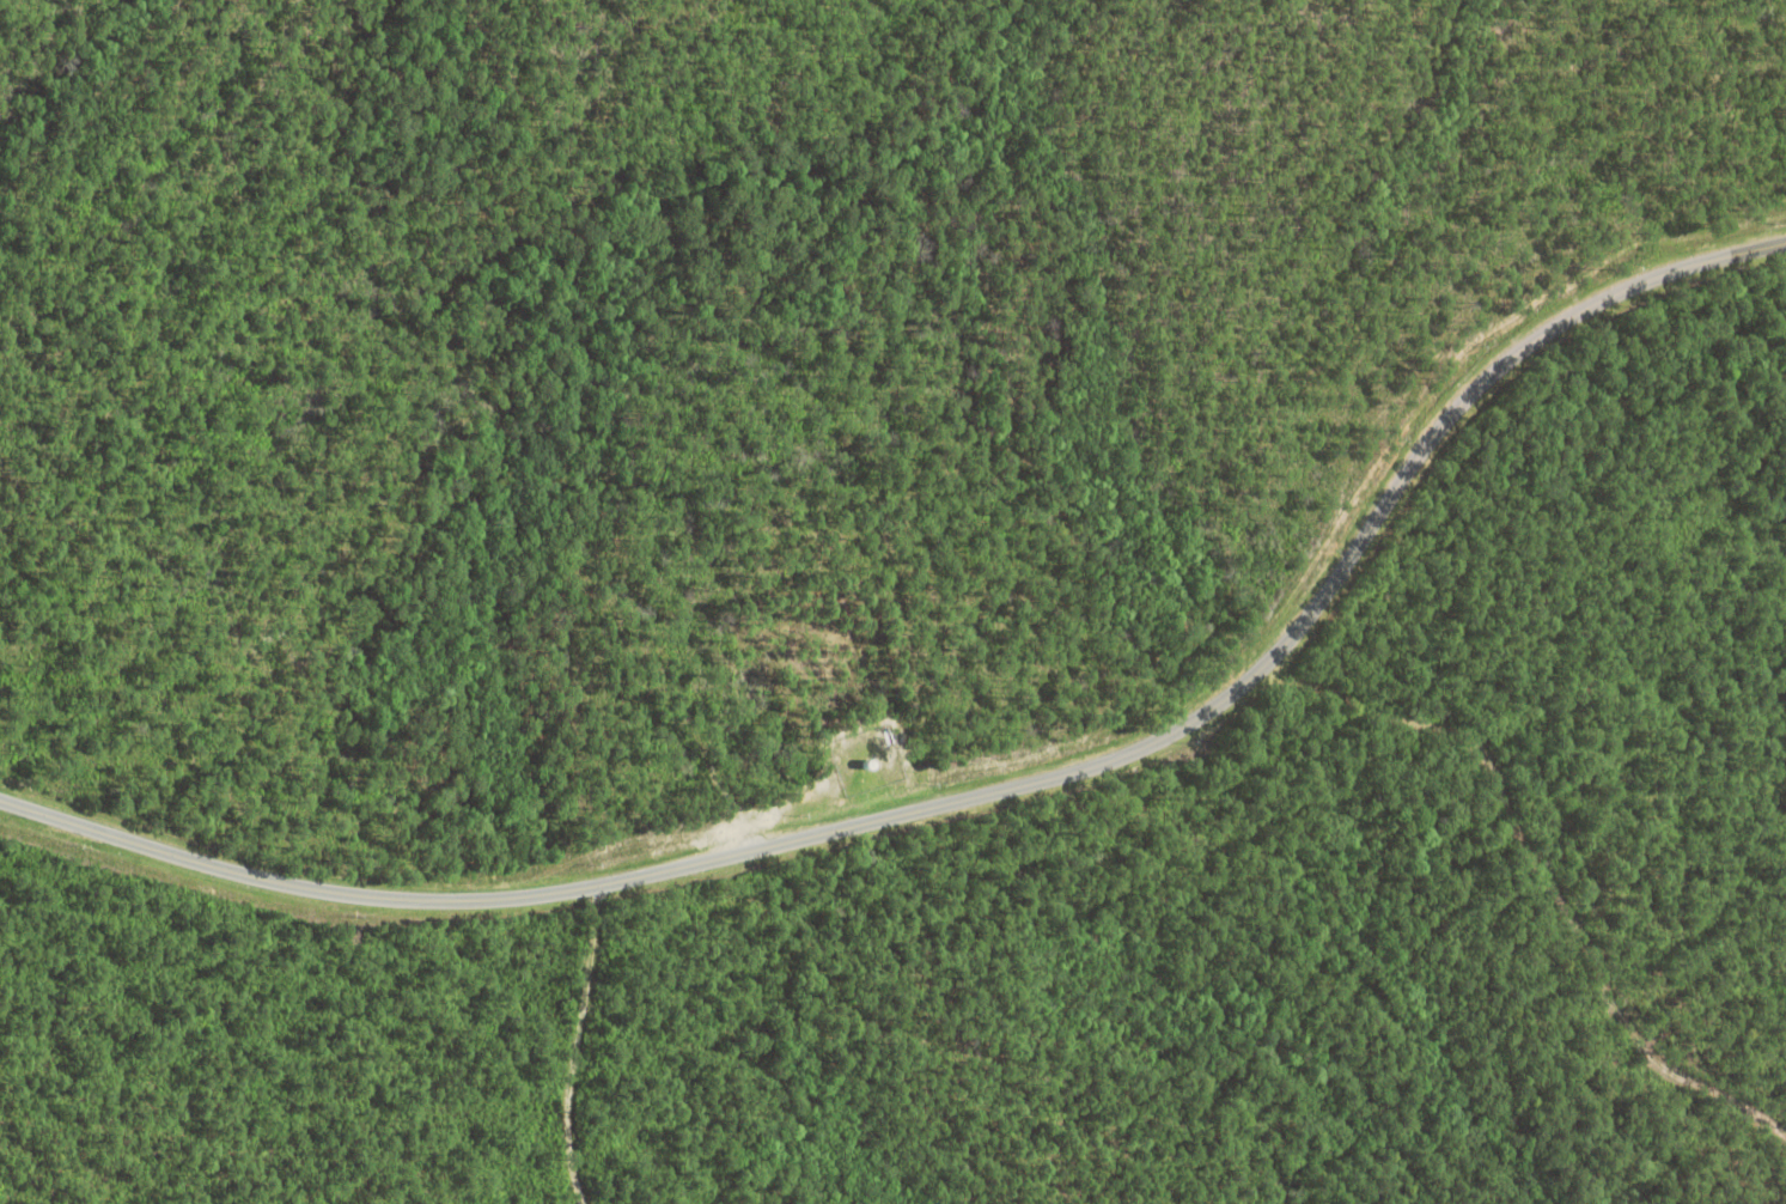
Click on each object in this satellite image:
road: (1345, 709)
road: (983, 795)
road: (586, 1044)

